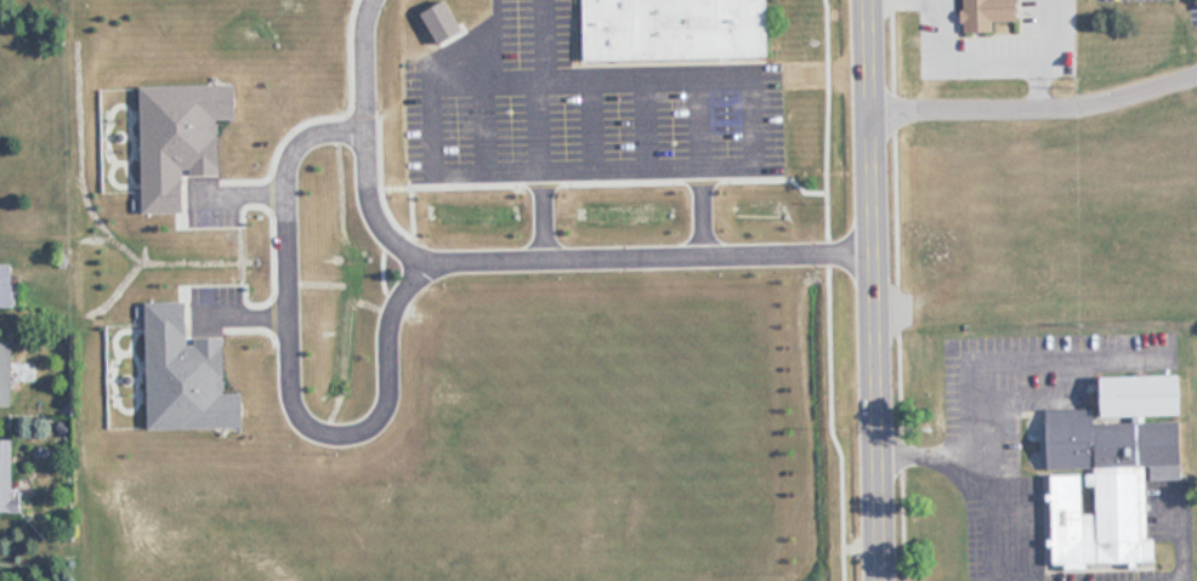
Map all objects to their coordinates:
building: (989, 13)
building: (676, 29)
road: (658, 75)
road: (1034, 98)
road: (510, 247)
building: (8, 285)
road: (872, 290)
road: (291, 359)
building: (6, 372)
road: (971, 374)
road: (924, 442)
building: (1114, 467)
building: (8, 478)
road: (1174, 530)

